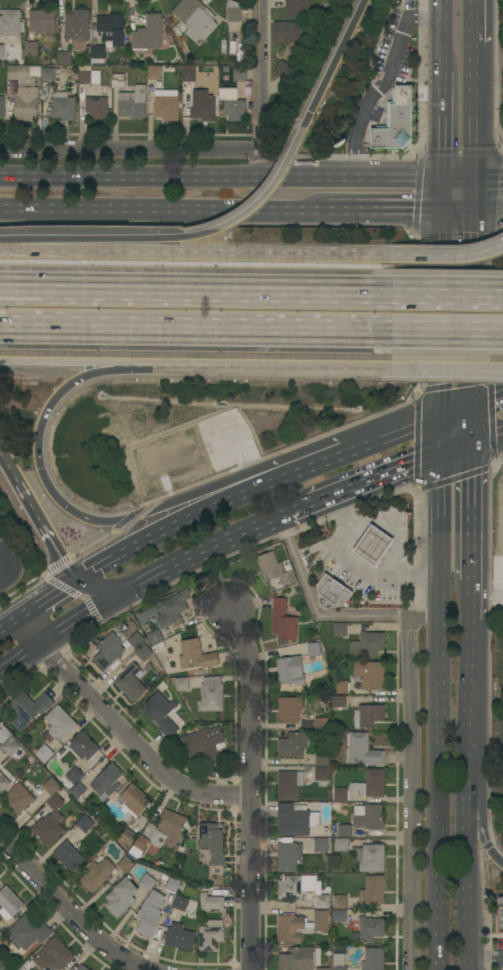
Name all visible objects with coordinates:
building: (297, 9)
building: (234, 12)
building: (195, 18)
road: (475, 21)
building: (11, 23)
building: (42, 24)
building: (77, 26)
building: (112, 28)
building: (290, 32)
building: (147, 34)
building: (78, 46)
building: (109, 46)
road: (447, 47)
building: (30, 49)
building: (2, 51)
building: (97, 53)
building: (64, 58)
road: (335, 60)
building: (84, 68)
building: (284, 71)
building: (18, 72)
building: (35, 72)
building: (154, 73)
building: (47, 74)
building: (188, 74)
building: (240, 74)
building: (84, 77)
road: (258, 77)
building: (96, 78)
building: (118, 80)
road: (386, 83)
building: (29, 84)
building: (132, 103)
building: (26, 104)
building: (166, 104)
building: (203, 106)
building: (63, 107)
building: (96, 107)
building: (2, 108)
building: (234, 108)
traffic signals: (311, 112)
road: (475, 112)
building: (396, 121)
road: (447, 138)
road: (129, 153)
road: (258, 167)
road: (223, 179)
traffic signals: (447, 181)
road: (461, 181)
traffic signals: (476, 181)
road: (489, 181)
road: (447, 196)
road: (475, 196)
road: (261, 199)
road: (164, 211)
road: (387, 212)
traffic signals: (447, 212)
road: (461, 212)
traffic signals: (475, 212)
road: (489, 212)
road: (100, 244)
road: (10, 250)
road: (200, 252)
road: (442, 254)
road: (185, 290)
road: (437, 292)
road: (446, 315)
road: (474, 324)
road: (185, 328)
road: (437, 331)
road: (56, 360)
road: (251, 364)
road: (445, 366)
road: (502, 367)
road: (502, 367)
road: (99, 369)
traffic signals: (446, 376)
traffic signals: (496, 399)
road: (488, 401)
road: (459, 413)
road: (487, 430)
road: (445, 433)
road: (395, 438)
road: (459, 441)
traffic signals: (409, 461)
road: (39, 468)
traffic signals: (39, 468)
road: (376, 473)
road: (302, 474)
traffic signals: (473, 481)
road: (192, 504)
road: (292, 506)
road: (473, 507)
road: (37, 518)
road: (394, 523)
road: (166, 532)
road: (444, 533)
building: (373, 545)
gas station: (374, 546)
road: (190, 550)
traffic signals: (59, 555)
road: (358, 565)
traffic signals: (100, 568)
building: (274, 569)
road: (93, 587)
building: (332, 593)
gas station: (332, 593)
road: (49, 598)
traffic signals: (82, 609)
building: (167, 610)
road: (71, 616)
road: (324, 618)
building: (283, 621)
road: (11, 625)
road: (28, 628)
building: (340, 630)
road: (0, 632)
building: (154, 637)
building: (135, 640)
building: (367, 644)
building: (314, 649)
building: (108, 651)
road: (17, 652)
building: (144, 653)
building: (196, 657)
building: (290, 671)
building: (369, 674)
building: (131, 682)
building: (180, 683)
building: (341, 687)
building: (211, 694)
building: (339, 702)
building: (30, 706)
building: (289, 709)
building: (161, 713)
building: (368, 716)
building: (59, 723)
building: (321, 724)
building: (4, 734)
road: (130, 741)
building: (203, 744)
building: (293, 745)
building: (12, 746)
building: (83, 746)
building: (362, 750)
building: (44, 754)
building: (322, 759)
building: (321, 774)
road: (467, 774)
building: (74, 775)
building: (107, 780)
building: (3, 782)
building: (372, 784)
building: (288, 785)
building: (51, 786)
road: (249, 789)
building: (78, 791)
road: (410, 794)
road: (442, 794)
building: (341, 795)
building: (19, 798)
building: (133, 800)
building: (54, 802)
building: (368, 817)
building: (295, 820)
building: (85, 824)
road: (476, 827)
building: (171, 828)
building: (45, 830)
building: (344, 830)
building: (128, 837)
building: (212, 842)
building: (340, 844)
building: (322, 845)
building: (138, 847)
building: (69, 855)
building: (288, 856)
road: (493, 856)
building: (370, 858)
building: (125, 865)
building: (97, 873)
building: (147, 882)
building: (171, 884)
building: (302, 890)
building: (372, 890)
building: (121, 897)
building: (210, 902)
building: (340, 902)
building: (9, 903)
building: (180, 903)
road: (69, 910)
building: (149, 914)
building: (340, 916)
building: (498, 917)
building: (300, 926)
building: (370, 929)
building: (0, 933)
building: (27, 933)
building: (211, 936)
building: (179, 937)
building: (53, 955)
parking lot: (500, 956)
building: (299, 959)
building: (373, 959)
road: (488, 961)
building: (338, 962)
building: (4, 968)
building: (82, 968)
building: (322, 969)

